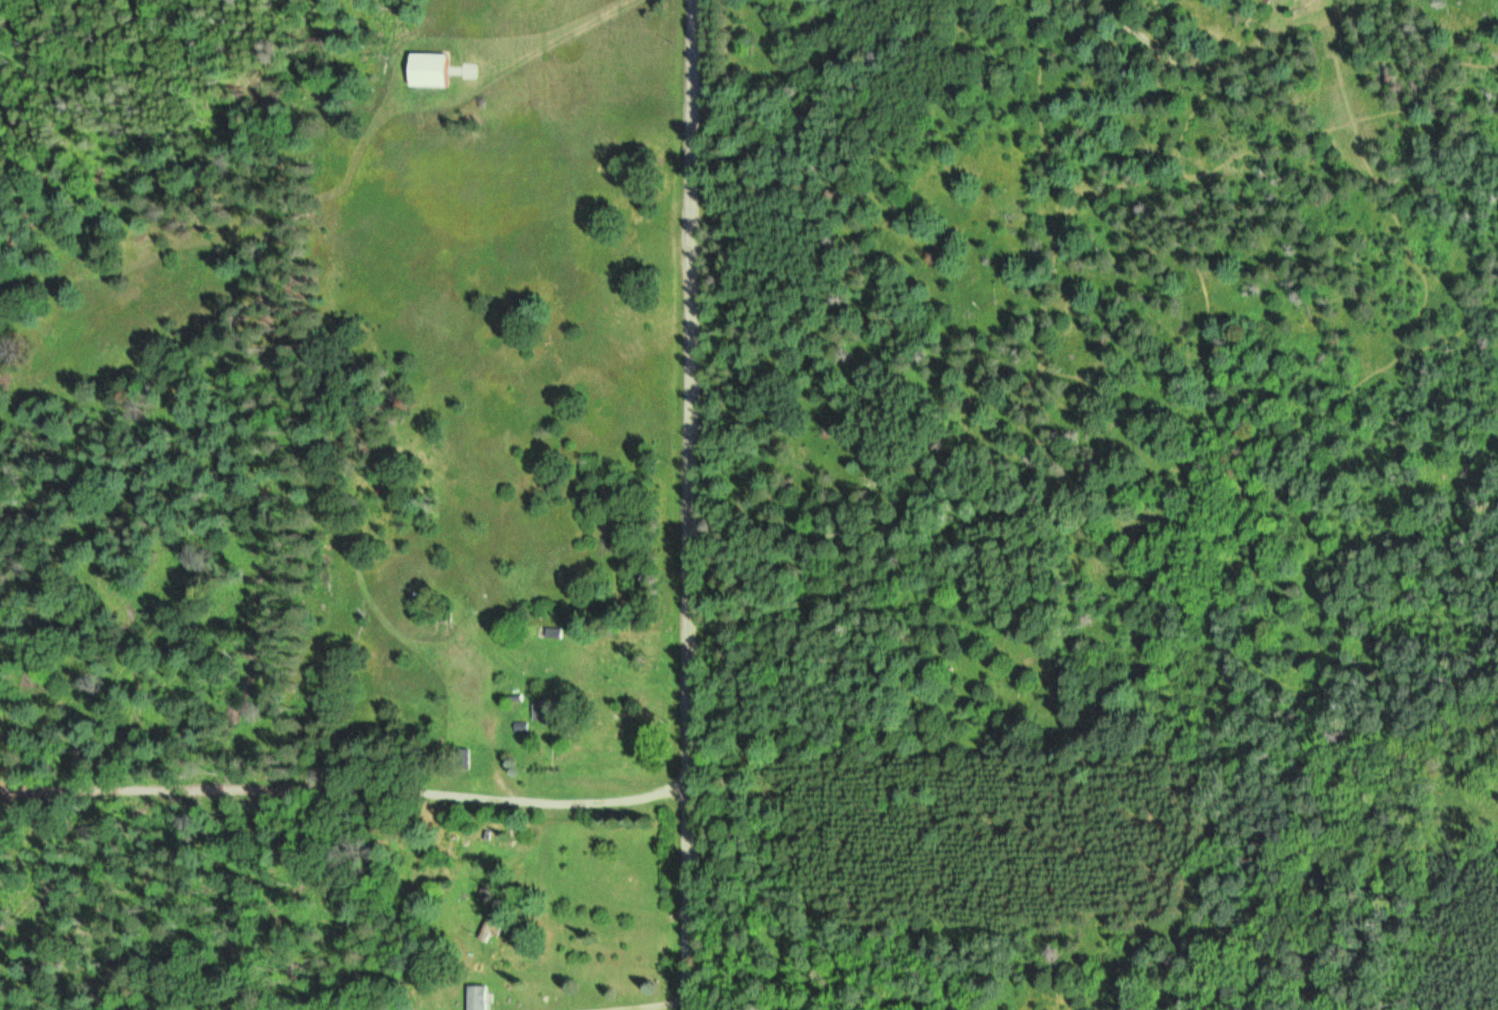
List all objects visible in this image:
building: (434, 69)
road: (702, 504)
road: (357, 781)

